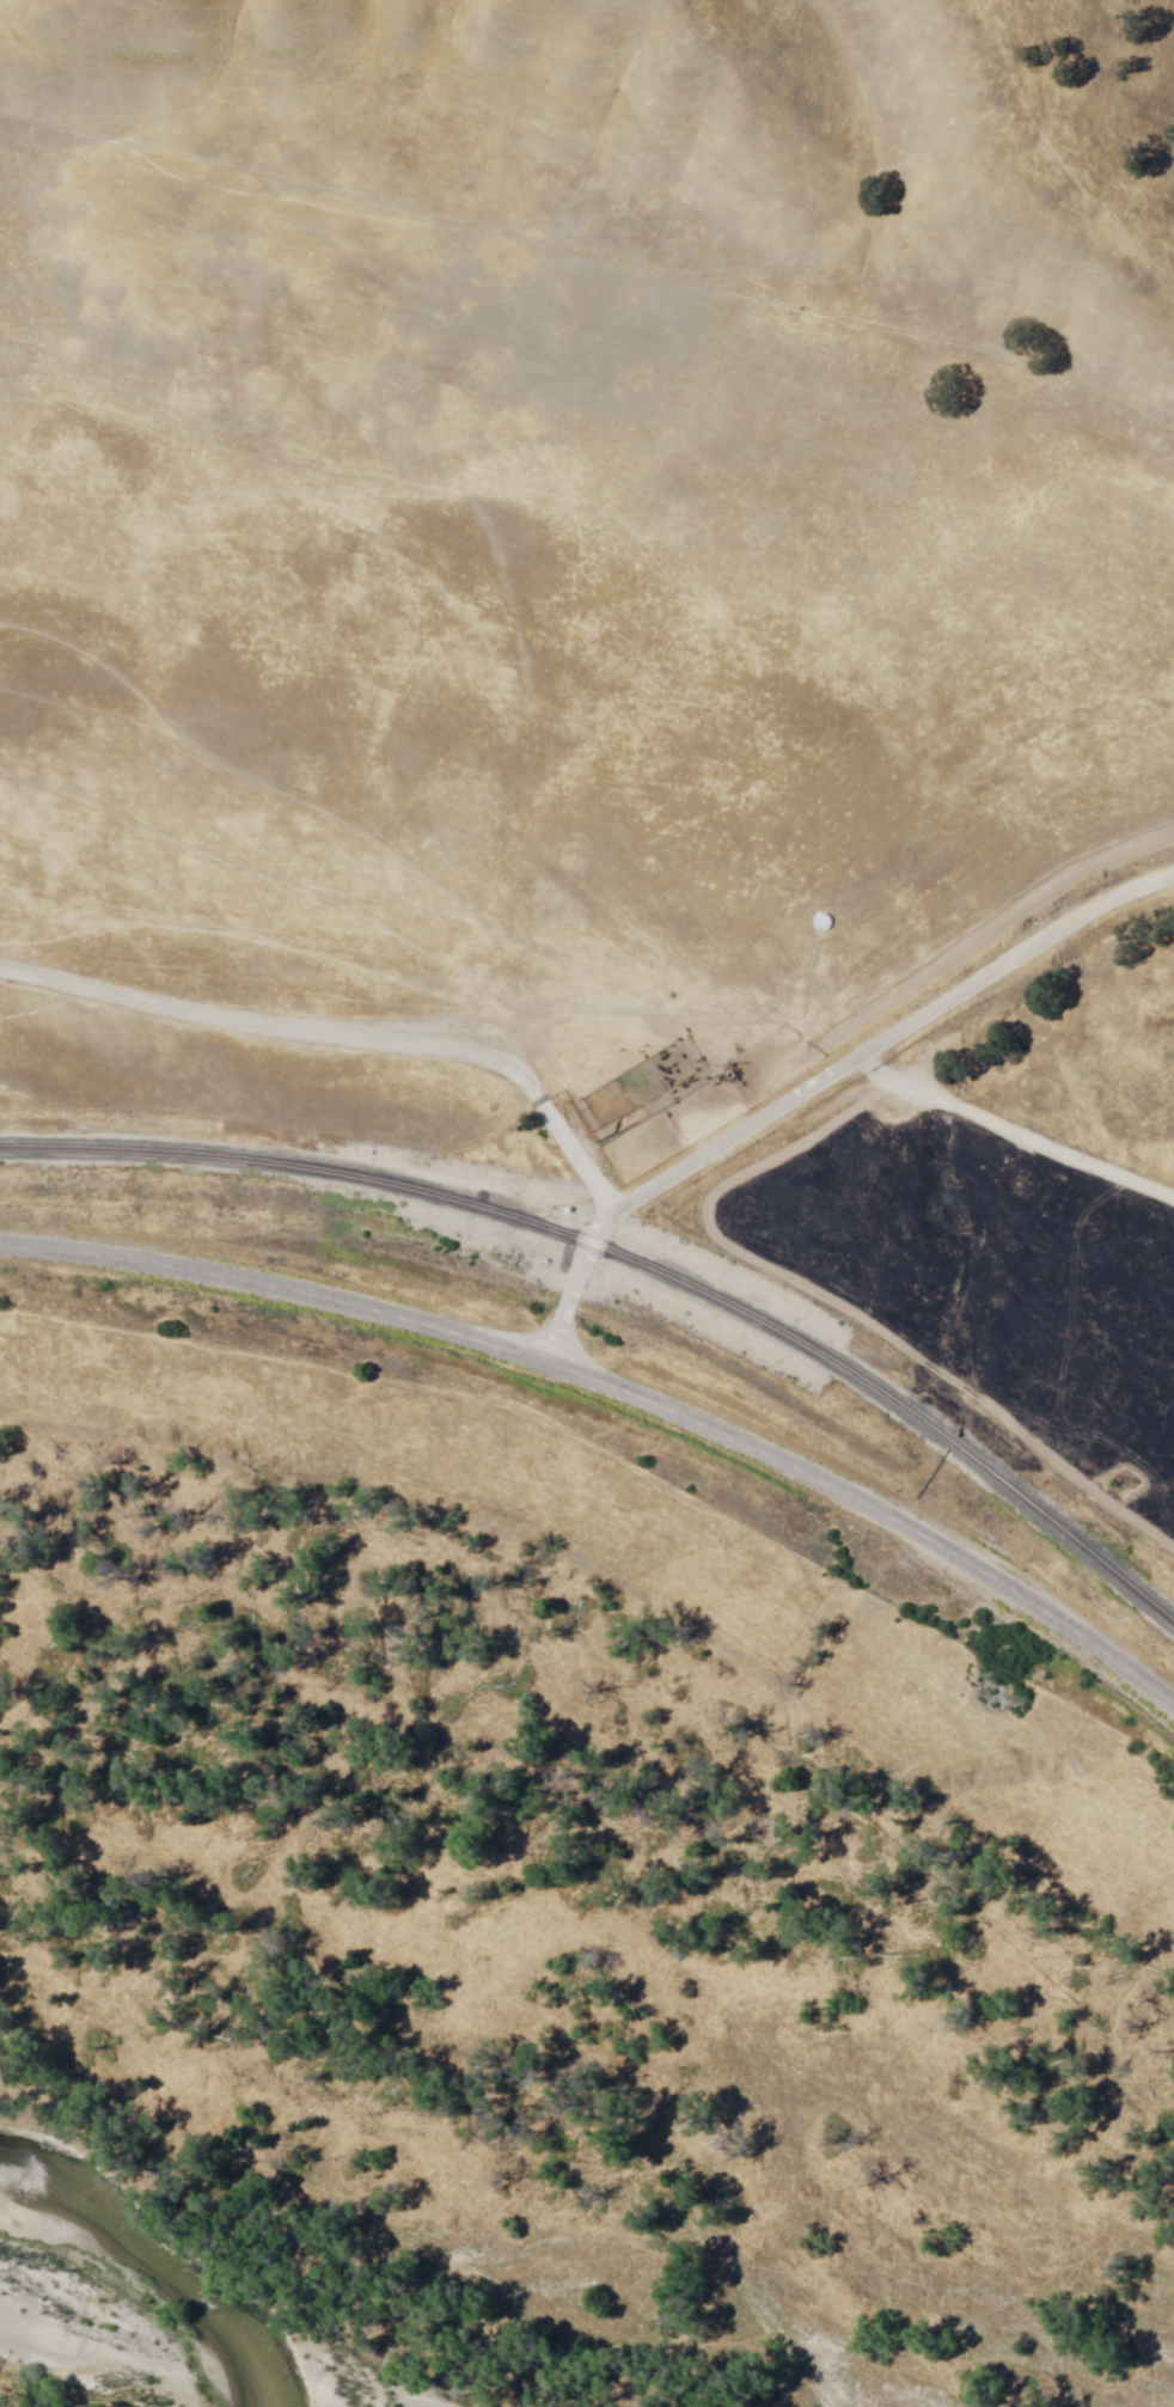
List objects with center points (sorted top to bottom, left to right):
road: (592, 171)
road: (343, 1032)
road: (820, 1086)
road: (1017, 1129)
railway: (635, 1263)
road: (620, 1391)
park: (568, 1868)
river: (103, 2377)

